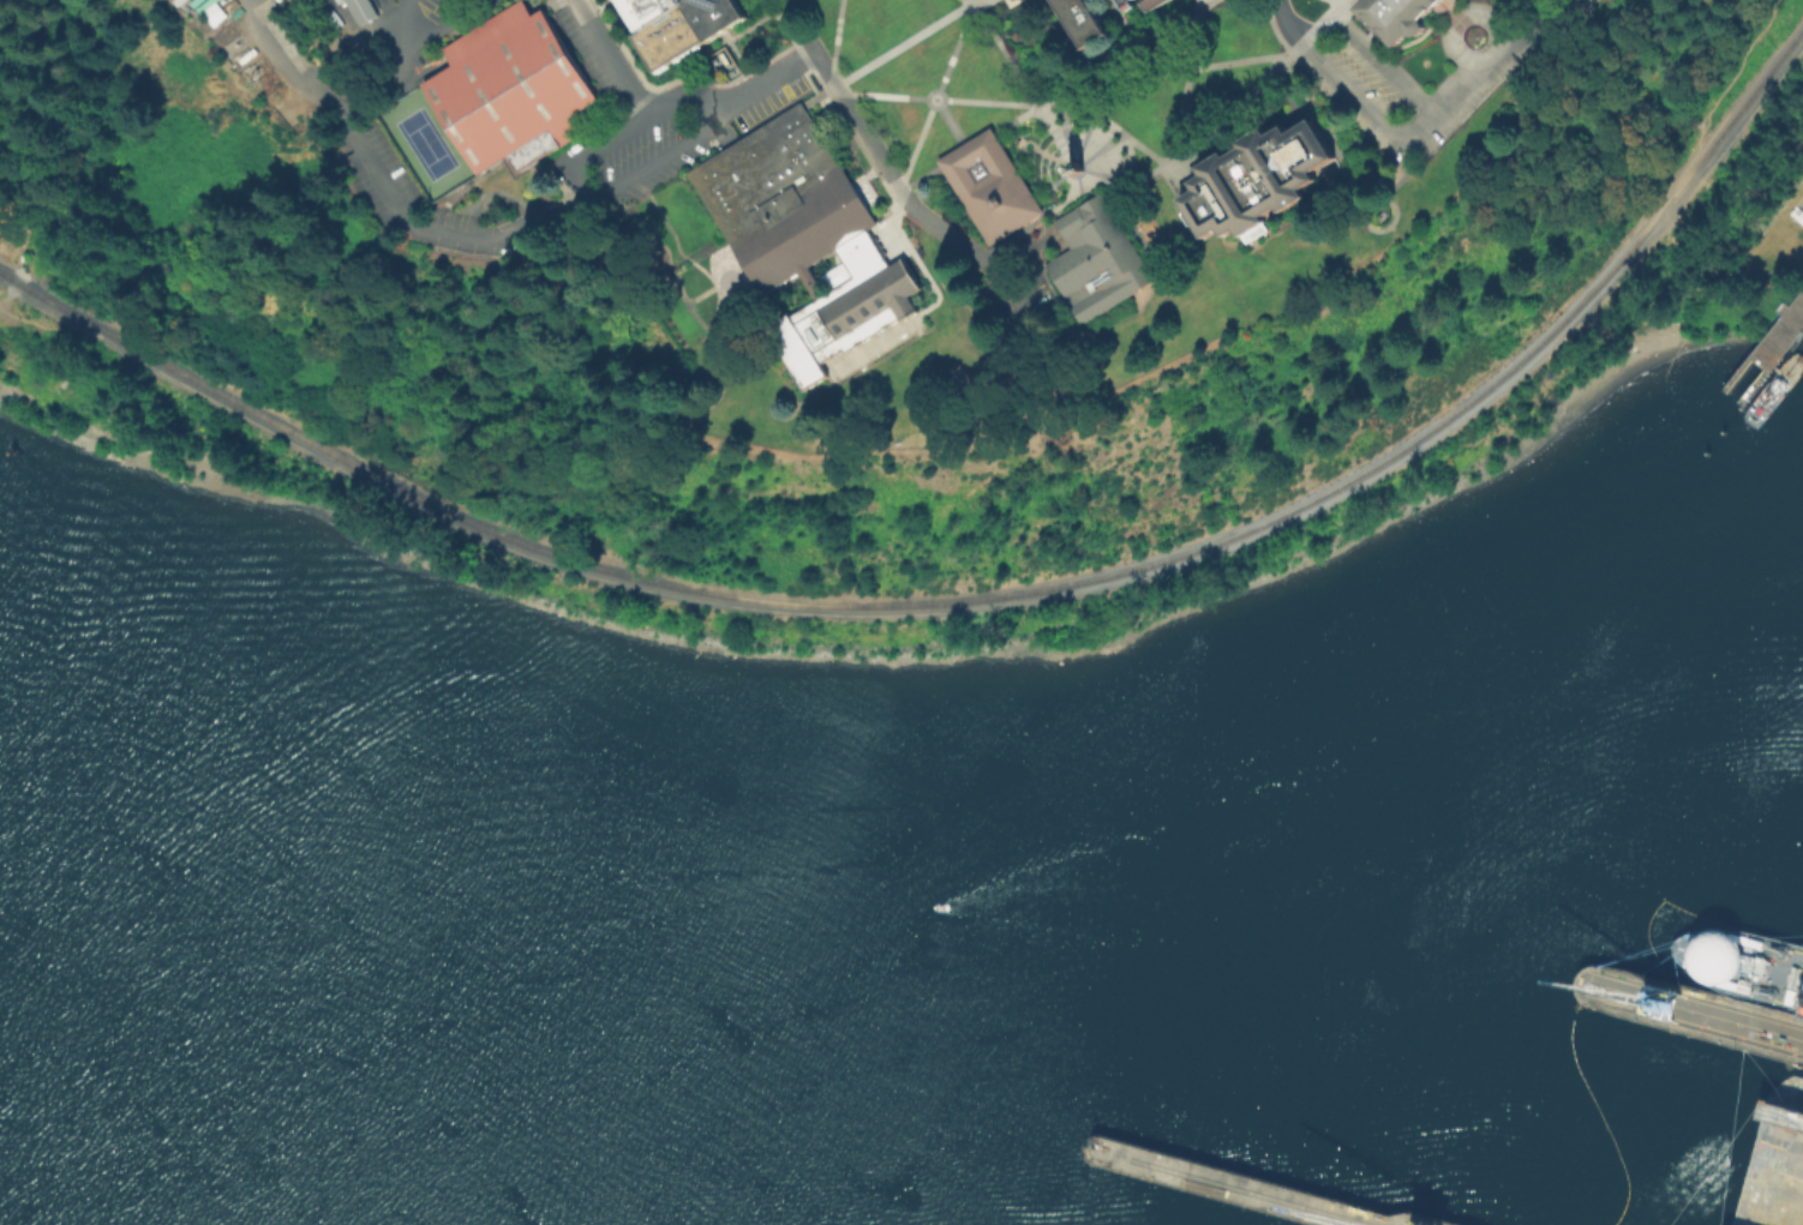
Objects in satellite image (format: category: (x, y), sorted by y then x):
building: (1005, 0)
building: (337, 1)
road: (977, 1)
road: (1208, 1)
building: (1157, 2)
building: (1124, 4)
building: (1131, 4)
building: (359, 8)
road: (1454, 12)
building: (1406, 16)
road: (1456, 16)
building: (1092, 19)
road: (448, 20)
road: (1121, 20)
building: (679, 25)
road: (1317, 25)
road: (785, 26)
road: (745, 28)
road: (1274, 28)
road: (1376, 34)
road: (1364, 38)
road: (887, 52)
road: (1126, 53)
road: (738, 56)
road: (1008, 56)
road: (609, 58)
road: (1497, 58)
building: (719, 60)
road: (409, 74)
road: (1089, 84)
road: (939, 86)
building: (510, 88)
road: (681, 94)
road: (893, 95)
road: (1305, 97)
road: (1358, 103)
road: (1232, 113)
road: (951, 124)
park: (1685, 125)
road: (1344, 126)
road: (1173, 139)
road: (359, 142)
park: (426, 142)
road: (870, 142)
park: (426, 143)
building: (1073, 167)
road: (1149, 170)
road: (1180, 175)
building: (1254, 178)
road: (610, 187)
road: (905, 187)
road: (900, 188)
building: (993, 188)
road: (1120, 192)
road: (538, 212)
road: (659, 212)
road: (894, 212)
building: (1796, 214)
storage tank: (1796, 214)
road: (1132, 226)
road: (1020, 228)
building: (804, 236)
road: (1001, 239)
road: (582, 253)
building: (1097, 259)
road: (705, 272)
road: (926, 272)
road: (731, 276)
road: (679, 289)
road: (701, 293)
pier: (1772, 340)
building: (1025, 364)
railway: (971, 598)
road: (975, 608)
railway: (1701, 997)
pier: (1693, 1009)
railway: (1697, 1026)
pier: (1245, 1187)
railway: (1256, 1190)
railway: (1414, 1221)

